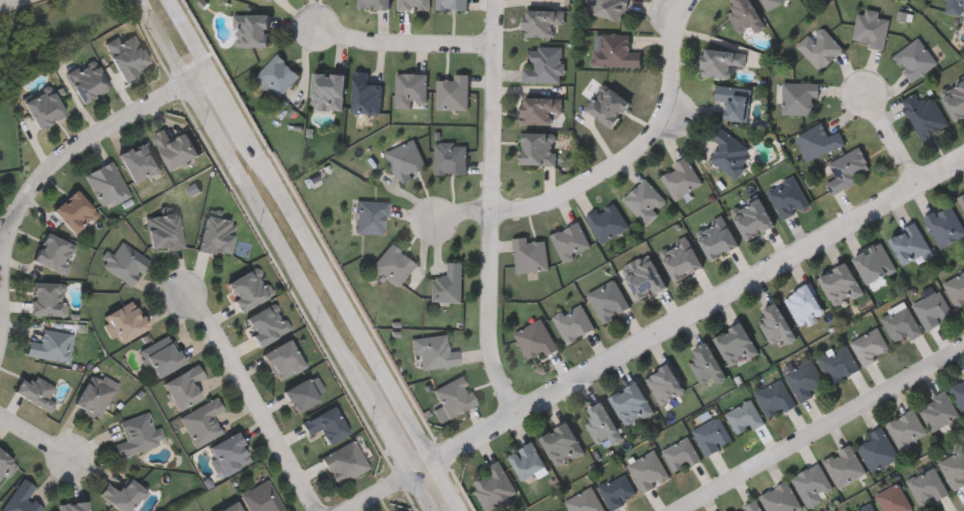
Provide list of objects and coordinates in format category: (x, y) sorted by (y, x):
building: (270, 0)
building: (808, 1)
building: (772, 2)
road: (10, 3)
building: (373, 4)
building: (451, 4)
building: (413, 5)
building: (955, 6)
building: (610, 8)
building: (744, 15)
building: (541, 21)
building: (870, 29)
building: (252, 30)
road: (191, 35)
building: (819, 47)
road: (404, 49)
building: (614, 50)
building: (125, 55)
building: (914, 59)
building: (720, 61)
building: (543, 63)
building: (277, 75)
building: (85, 82)
building: (410, 89)
building: (326, 91)
building: (452, 92)
building: (365, 94)
building: (798, 97)
building: (954, 99)
building: (734, 101)
road: (229, 102)
building: (607, 105)
building: (539, 108)
building: (42, 109)
building: (924, 114)
road: (891, 134)
building: (818, 141)
road: (635, 146)
building: (175, 148)
building: (537, 148)
building: (729, 153)
building: (449, 158)
building: (404, 160)
building: (136, 161)
road: (51, 165)
building: (847, 169)
building: (680, 177)
building: (106, 185)
building: (787, 197)
building: (961, 199)
building: (645, 200)
road: (490, 207)
road: (463, 210)
building: (73, 213)
building: (370, 217)
building: (751, 217)
building: (607, 221)
building: (944, 225)
road: (5, 229)
building: (162, 231)
building: (213, 233)
building: (716, 237)
building: (570, 240)
building: (908, 243)
building: (52, 253)
building: (529, 254)
road: (287, 255)
building: (679, 257)
building: (873, 262)
building: (125, 263)
building: (391, 265)
building: (644, 279)
building: (446, 284)
building: (839, 284)
building: (246, 288)
building: (956, 289)
road: (340, 295)
building: (47, 299)
building: (608, 300)
building: (803, 303)
building: (932, 309)
road: (687, 311)
building: (124, 321)
building: (573, 322)
building: (776, 324)
building: (264, 325)
building: (902, 325)
building: (535, 339)
building: (735, 344)
building: (870, 345)
building: (50, 346)
building: (433, 351)
building: (160, 357)
building: (281, 361)
building: (838, 362)
building: (706, 364)
building: (806, 380)
building: (664, 383)
building: (182, 388)
building: (959, 392)
building: (34, 393)
building: (94, 395)
building: (299, 396)
building: (453, 397)
road: (254, 398)
building: (775, 398)
building: (631, 403)
building: (938, 410)
building: (745, 417)
building: (202, 423)
building: (601, 425)
building: (324, 426)
building: (906, 429)
road: (821, 432)
building: (713, 435)
road: (33, 436)
building: (135, 436)
building: (561, 444)
building: (877, 449)
building: (682, 454)
building: (227, 455)
building: (526, 461)
building: (344, 463)
building: (845, 466)
building: (954, 466)
building: (5, 467)
building: (649, 470)
road: (447, 484)
building: (814, 484)
building: (494, 486)
building: (927, 486)
building: (618, 490)
road: (377, 491)
building: (121, 495)
building: (20, 498)
building: (261, 498)
building: (781, 498)
building: (894, 499)
building: (586, 501)
building: (73, 507)
building: (230, 507)
building: (752, 507)
building: (865, 507)
building: (561, 509)

